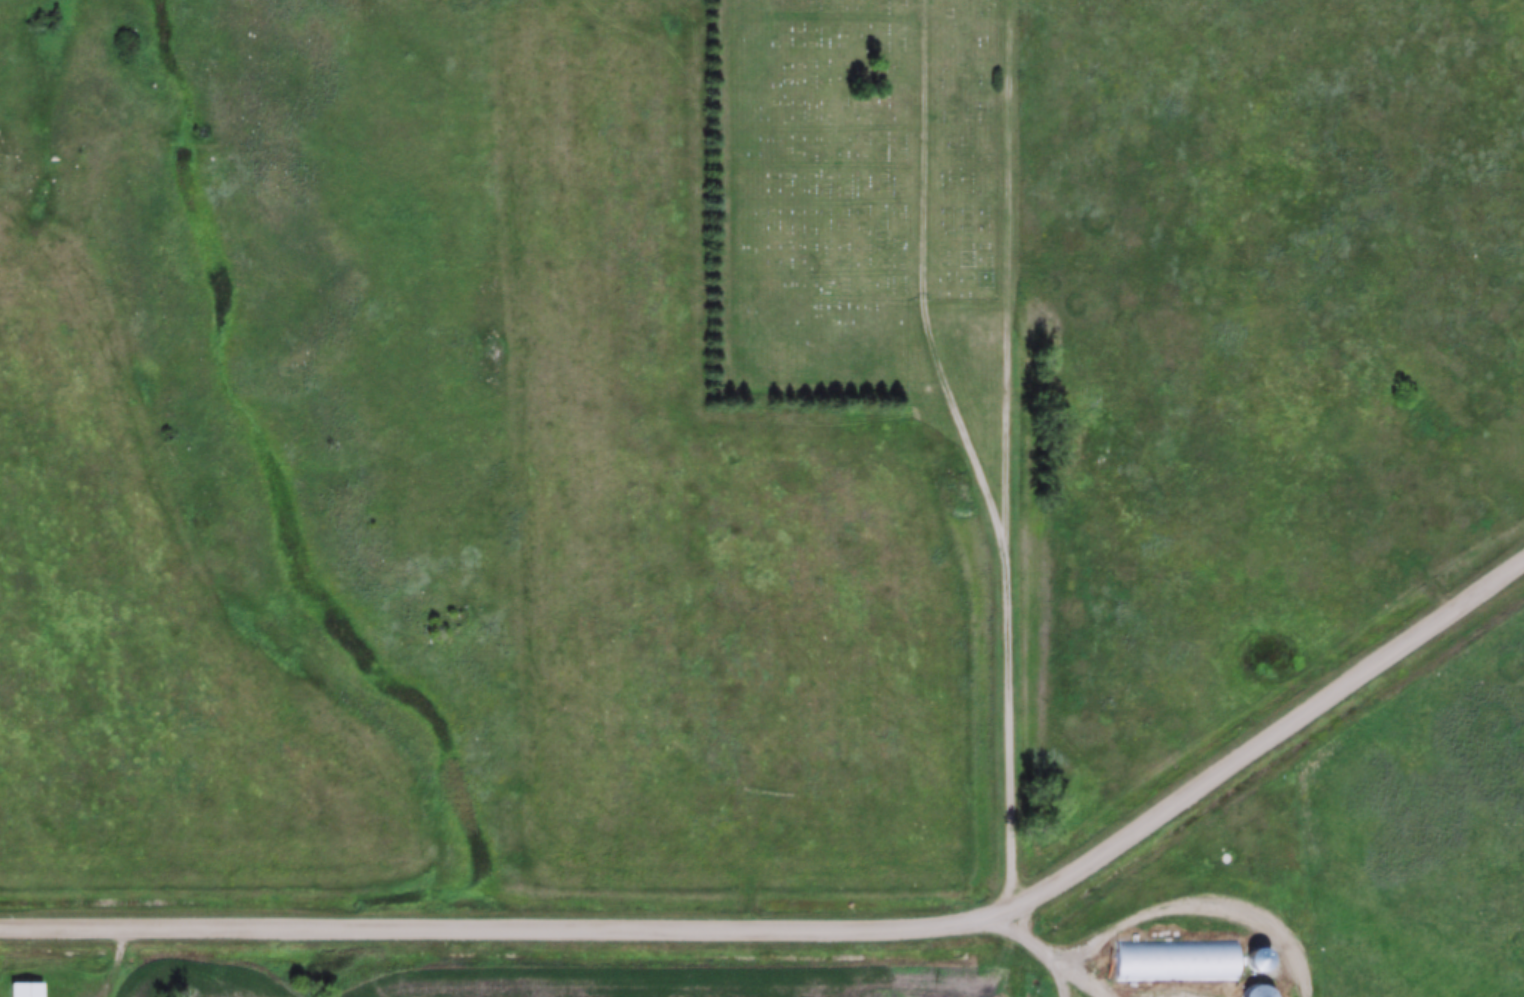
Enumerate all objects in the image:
road: (1008, 281)
road: (922, 288)
road: (1009, 733)
road: (817, 923)
road: (982, 955)
building: (1260, 958)
silo: (1260, 958)
building: (1179, 961)
building: (28, 990)
building: (1260, 991)
silo: (1260, 991)

